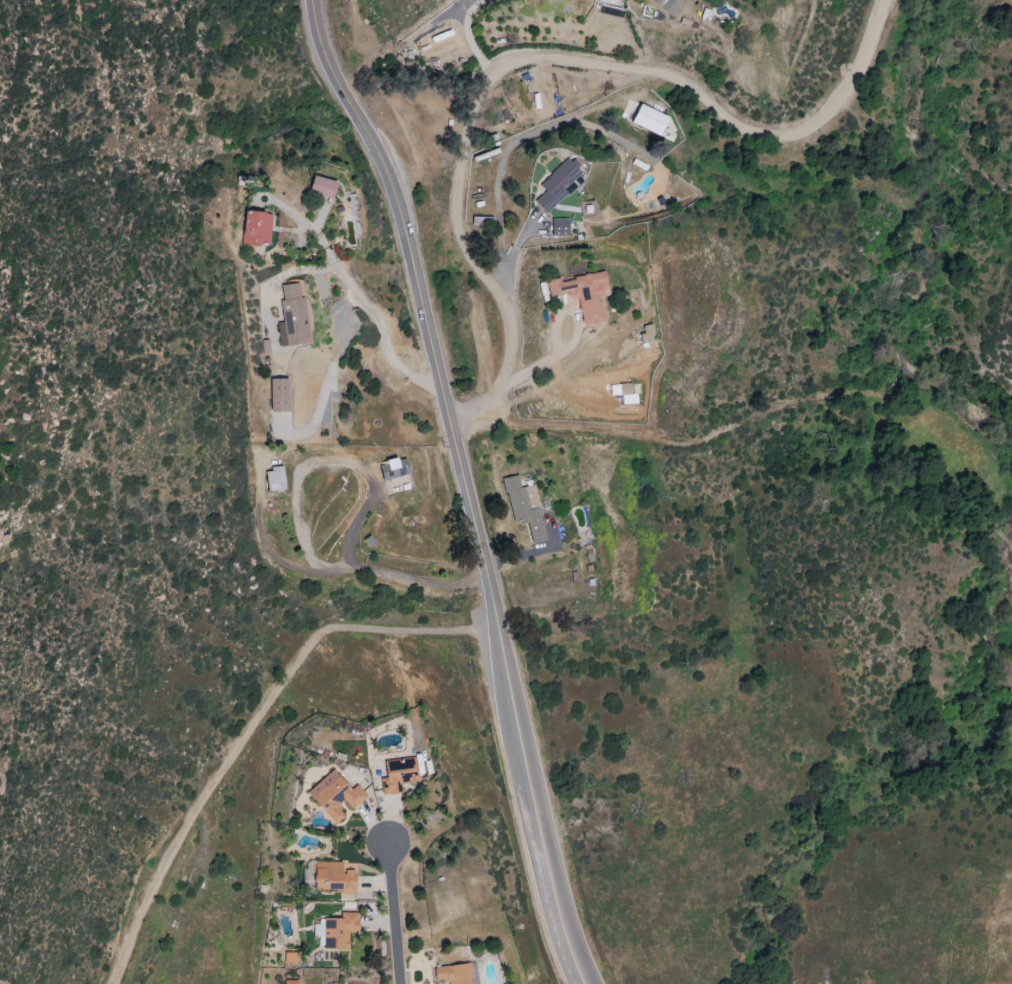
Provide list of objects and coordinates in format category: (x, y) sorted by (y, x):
building: (667, 5)
road: (469, 39)
road: (537, 58)
building: (649, 120)
road: (505, 153)
building: (555, 186)
building: (322, 187)
building: (568, 204)
building: (559, 227)
building: (256, 229)
building: (583, 295)
road: (375, 314)
building: (292, 318)
building: (278, 395)
building: (392, 468)
building: (274, 479)
road: (463, 485)
building: (523, 507)
road: (296, 518)
road: (252, 726)
building: (398, 775)
building: (335, 795)
building: (333, 877)
road: (391, 915)
building: (336, 931)
building: (290, 959)
building: (453, 974)
building: (290, 982)

